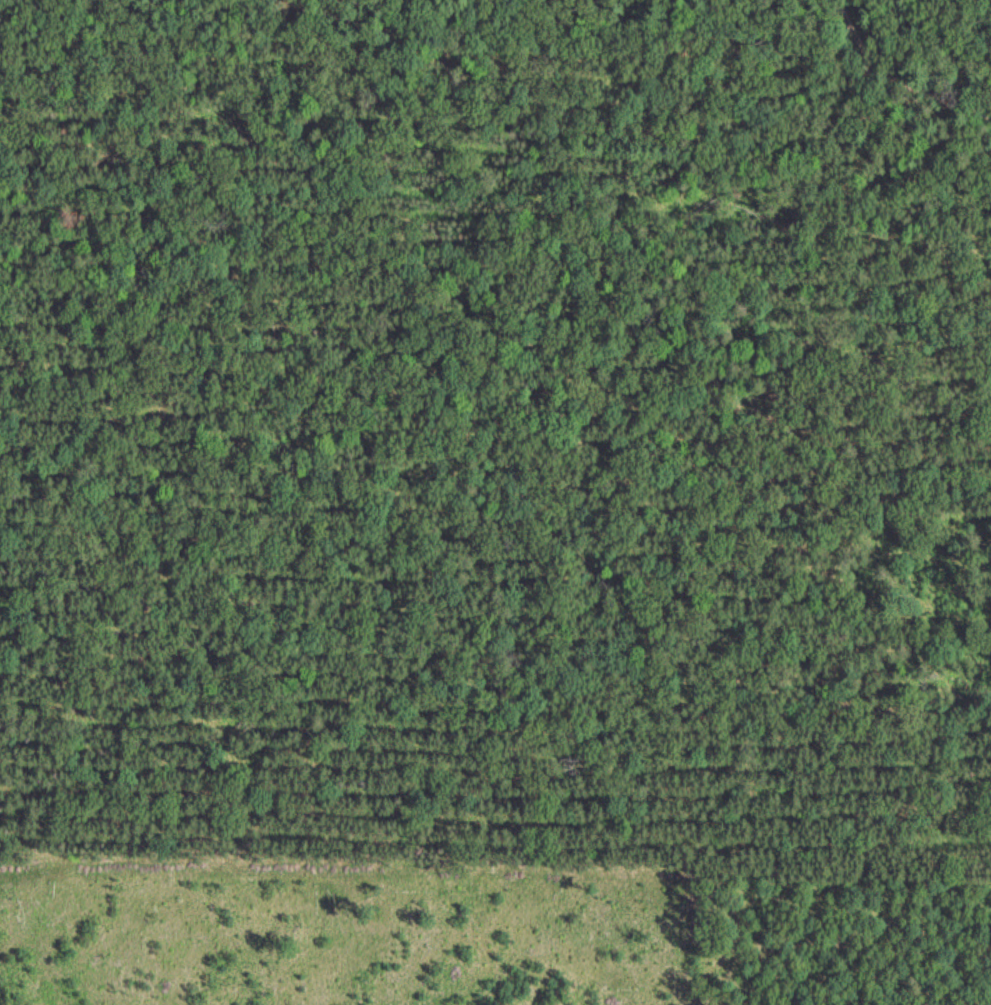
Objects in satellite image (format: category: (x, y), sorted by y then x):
road: (904, 81)

